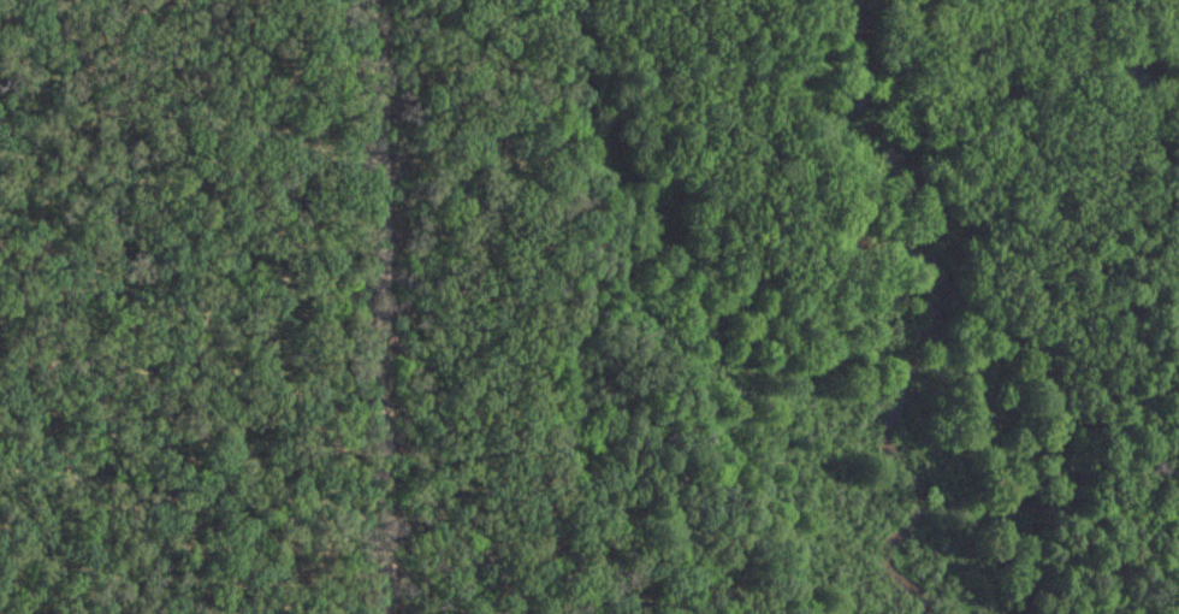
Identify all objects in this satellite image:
road: (375, 307)
road: (2, 603)

